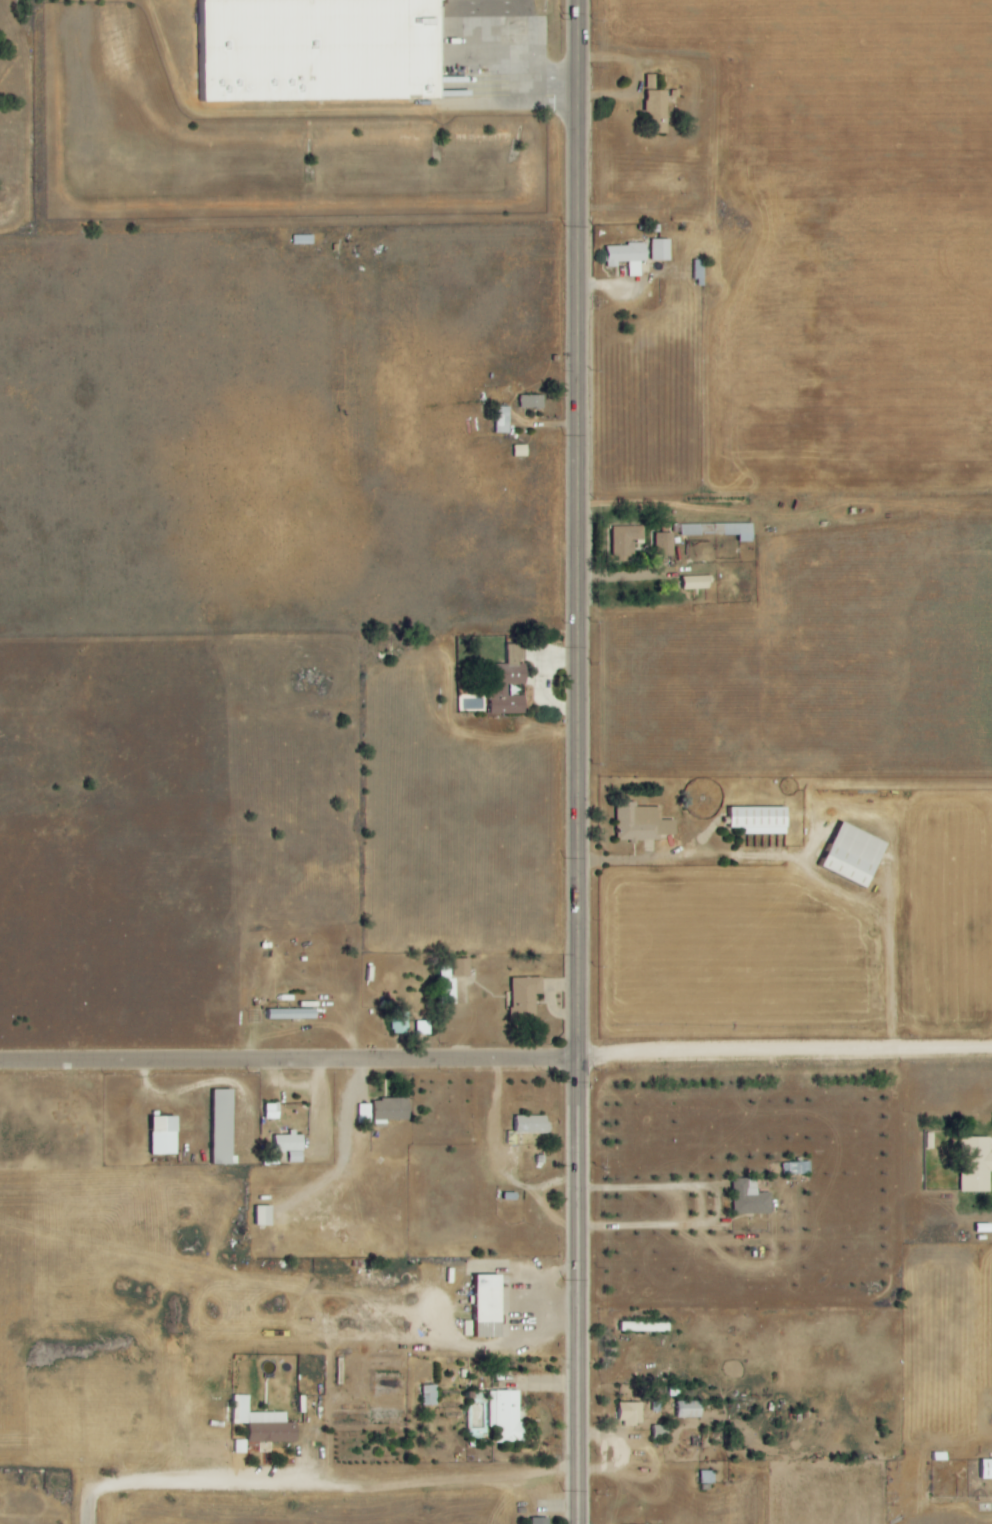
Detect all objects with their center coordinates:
parking lot: (502, 5)
building: (322, 49)
building: (652, 112)
building: (656, 250)
building: (622, 257)
building: (695, 273)
building: (527, 402)
building: (499, 420)
road: (578, 529)
building: (716, 530)
building: (621, 540)
building: (655, 544)
building: (664, 544)
building: (690, 583)
power tower: (564, 646)
building: (501, 689)
building: (752, 820)
building: (637, 823)
building: (845, 855)
power tower: (564, 858)
road: (658, 864)
building: (464, 967)
building: (446, 986)
building: (526, 997)
building: (288, 1014)
building: (400, 1021)
road: (785, 1056)
road: (289, 1063)
power tower: (563, 1082)
building: (392, 1109)
building: (272, 1111)
building: (531, 1124)
building: (216, 1126)
building: (157, 1135)
building: (290, 1145)
building: (971, 1165)
building: (751, 1198)
building: (259, 1215)
road: (670, 1228)
power tower: (563, 1280)
road: (578, 1291)
building: (480, 1305)
building: (646, 1326)
building: (430, 1395)
building: (308, 1405)
building: (689, 1409)
building: (632, 1413)
building: (508, 1415)
building: (263, 1422)
building: (659, 1431)
building: (984, 1468)
building: (707, 1477)
road: (320, 1481)
power tower: (562, 1490)
building: (535, 1520)

